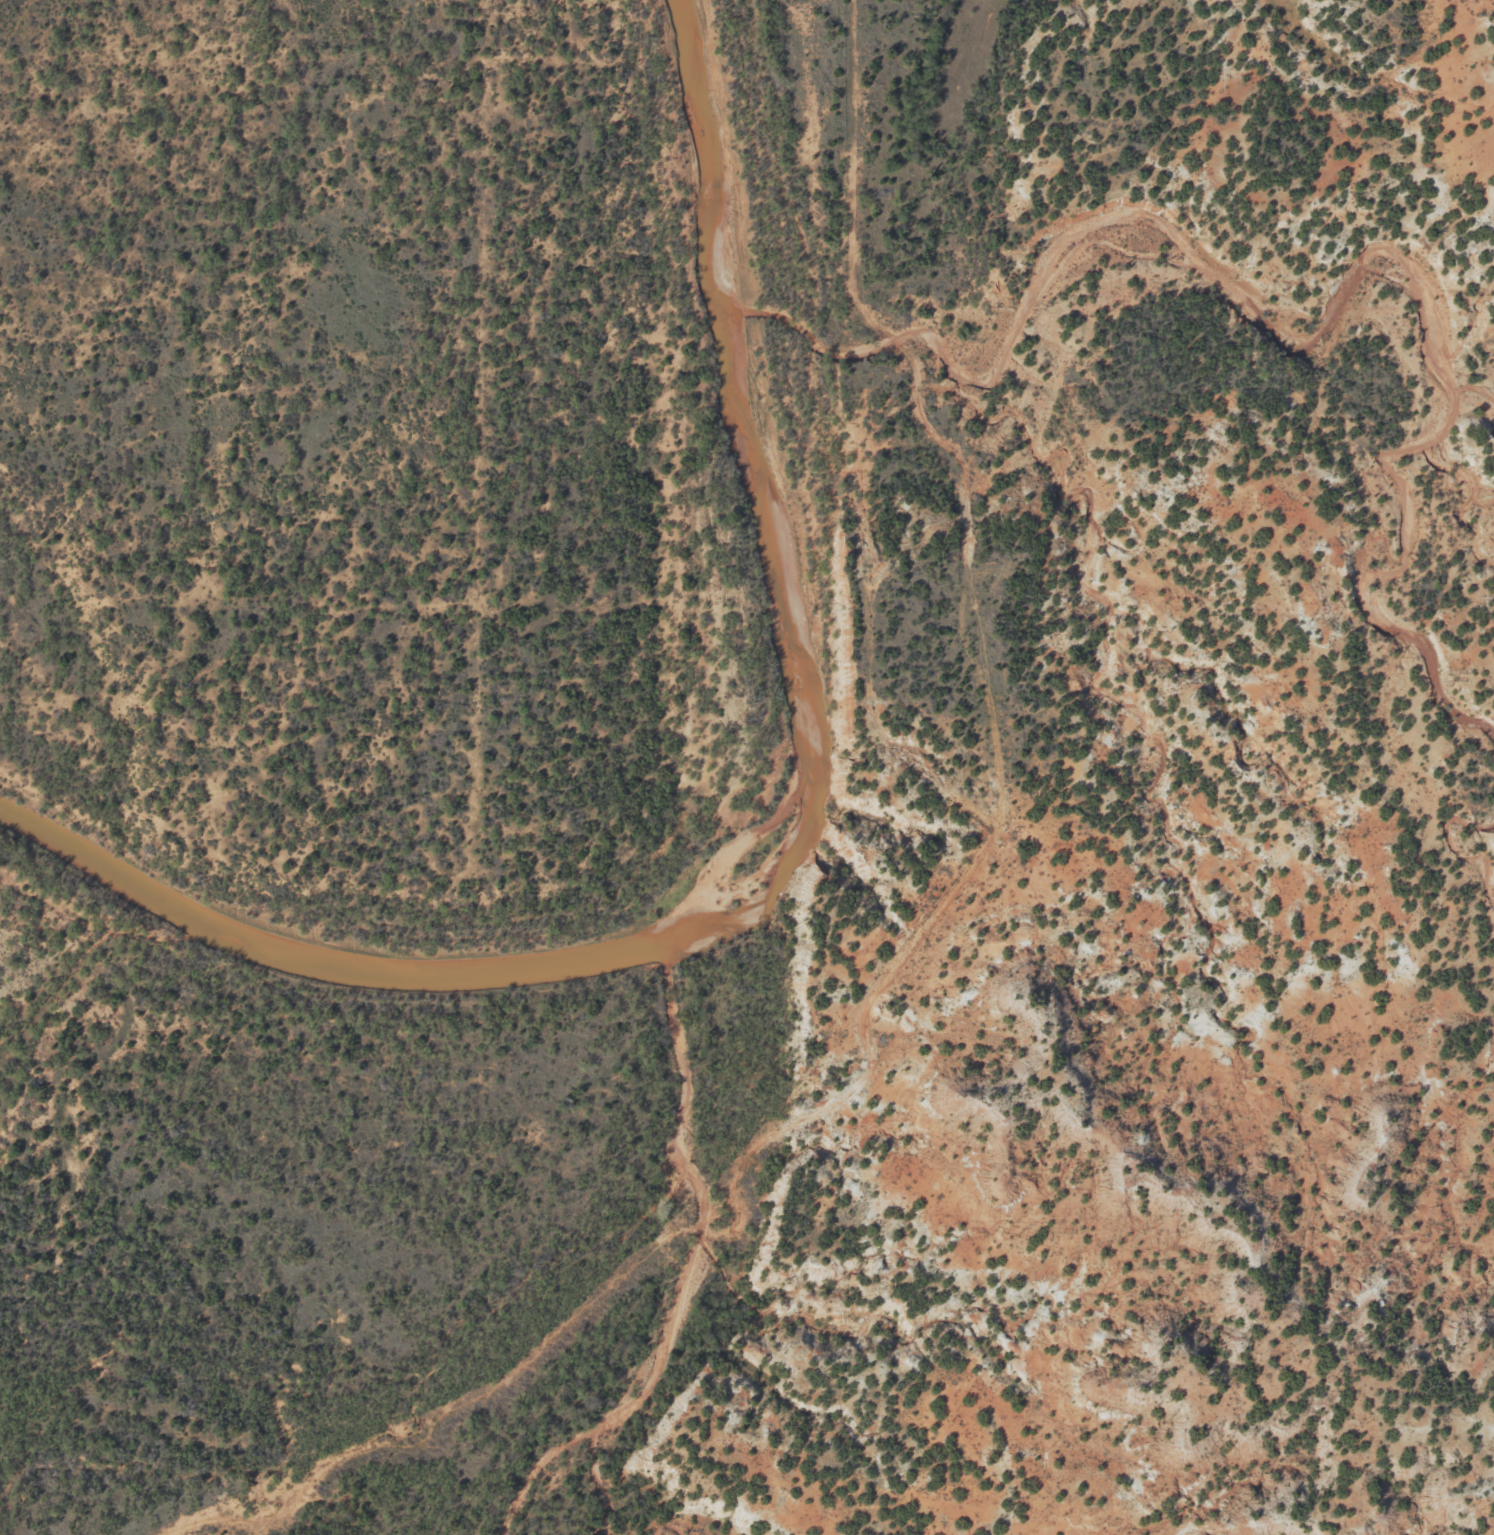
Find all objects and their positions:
river: (772, 838)

